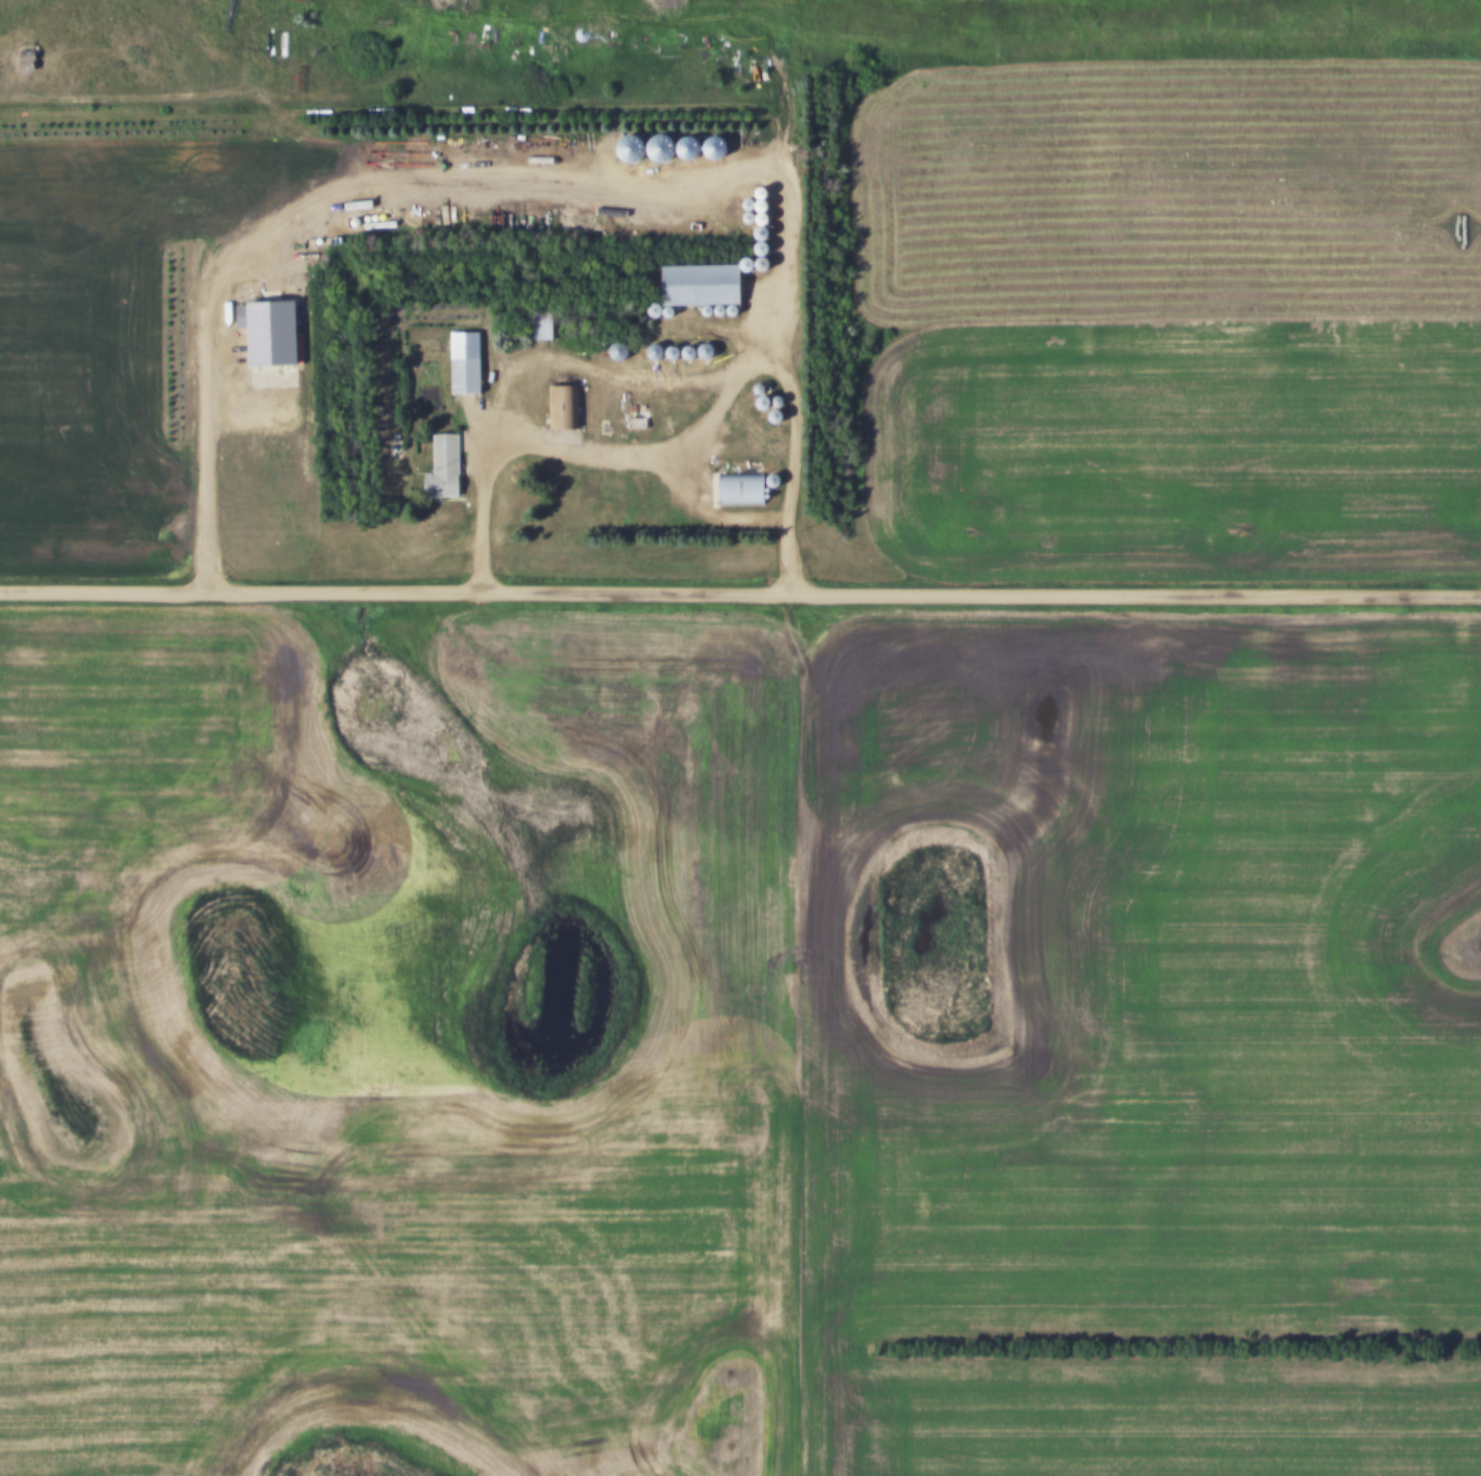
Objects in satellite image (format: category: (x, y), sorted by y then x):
road: (654, 7)
road: (786, 272)
building: (709, 285)
building: (546, 331)
building: (469, 363)
road: (690, 429)
building: (447, 467)
building: (743, 489)
road: (740, 590)

